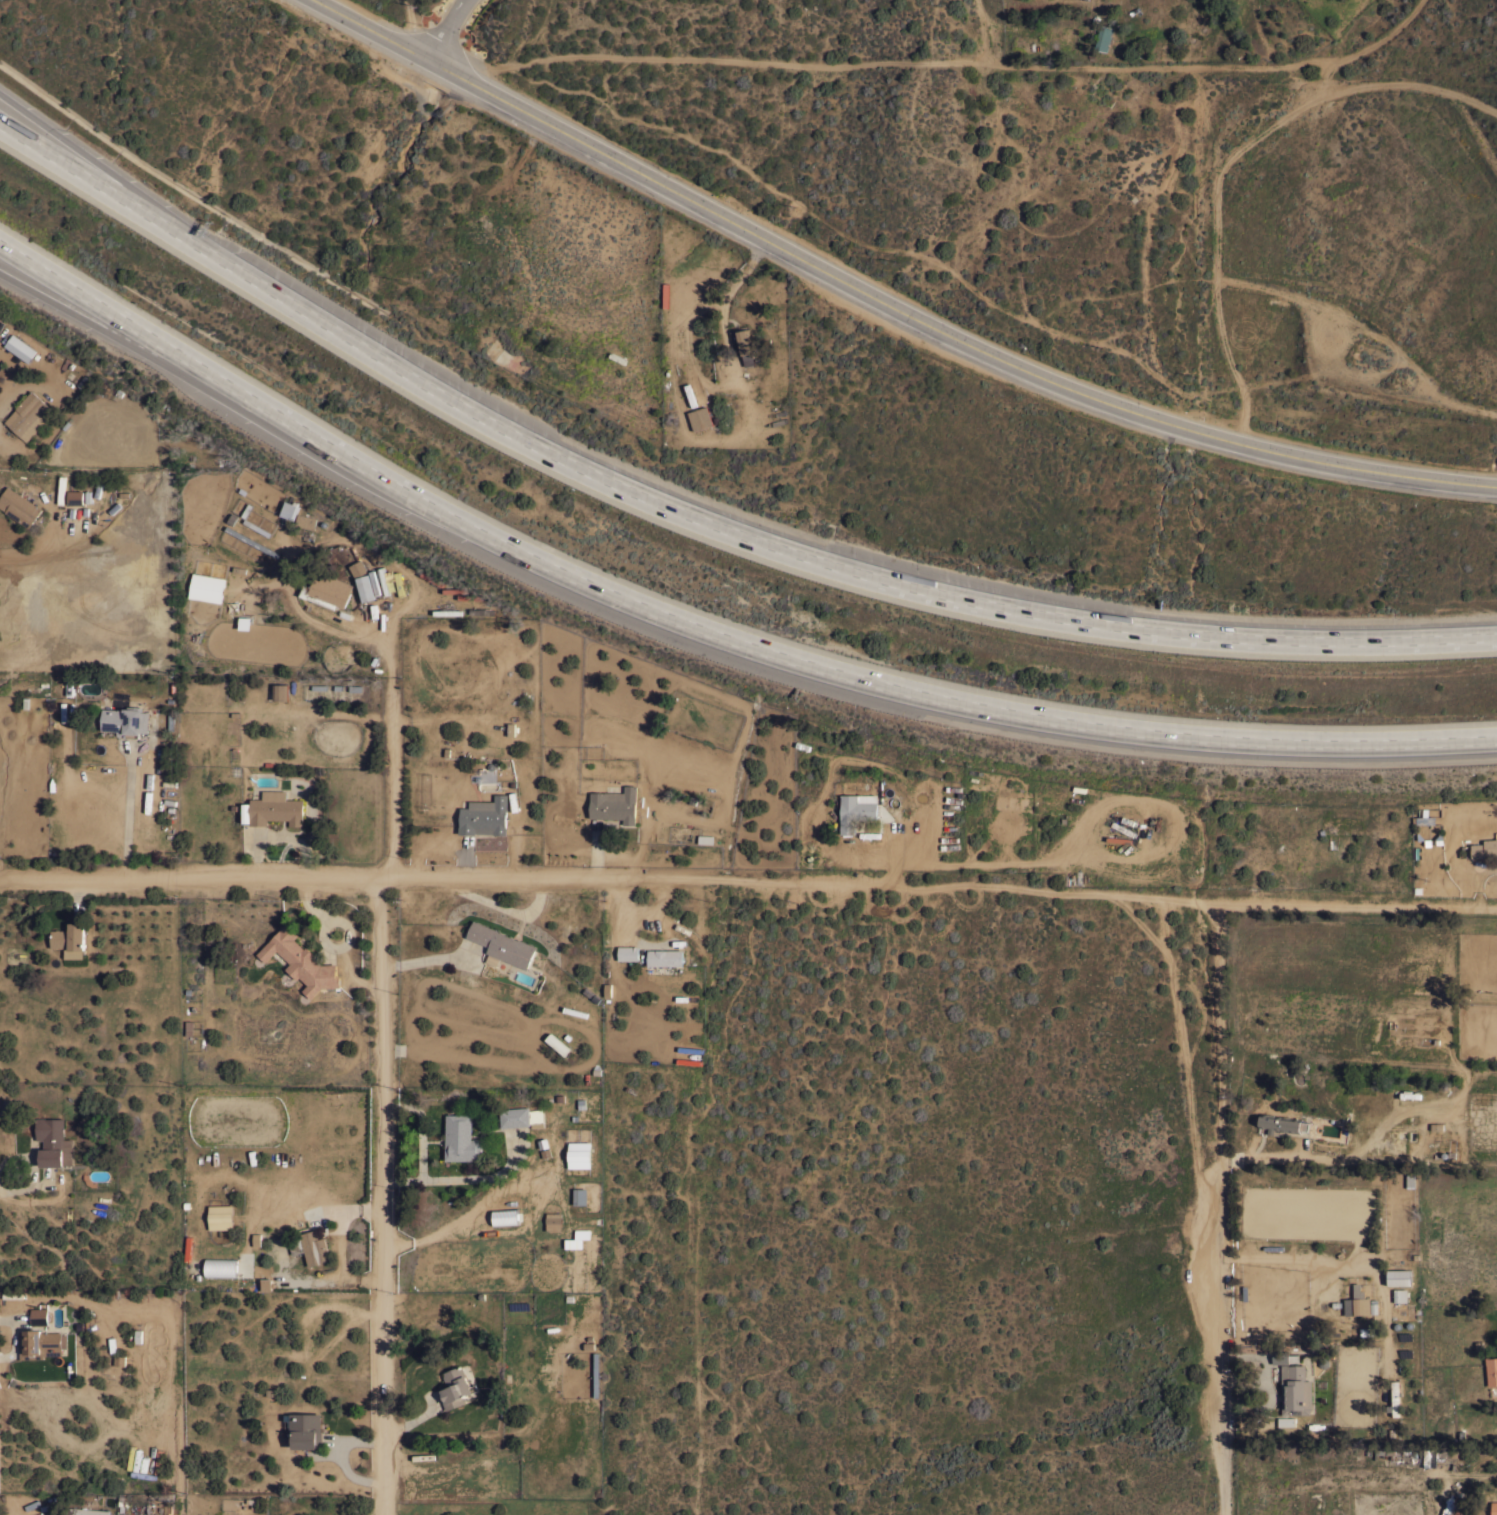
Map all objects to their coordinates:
road: (411, 26)
road: (447, 29)
road: (987, 32)
building: (1103, 38)
road: (943, 66)
road: (100, 167)
road: (100, 183)
road: (883, 303)
road: (133, 333)
building: (745, 346)
building: (20, 347)
building: (29, 415)
building: (700, 418)
building: (75, 497)
building: (19, 506)
building: (305, 521)
building: (155, 537)
building: (252, 540)
road: (815, 554)
building: (357, 568)
building: (207, 587)
building: (364, 588)
building: (327, 591)
building: (482, 611)
road: (705, 620)
building: (280, 691)
building: (125, 721)
building: (615, 804)
building: (276, 808)
building: (856, 810)
road: (133, 816)
building: (484, 816)
building: (1423, 818)
building: (1123, 829)
building: (705, 838)
building: (1483, 848)
road: (748, 885)
building: (70, 939)
building: (501, 945)
building: (628, 953)
building: (665, 957)
building: (301, 961)
building: (1415, 1024)
building: (557, 1044)
road: (384, 1060)
building: (1438, 1091)
building: (514, 1116)
building: (537, 1119)
building: (1281, 1122)
building: (1386, 1125)
road: (420, 1128)
building: (1441, 1137)
building: (461, 1138)
building: (53, 1142)
building: (579, 1154)
road: (463, 1179)
building: (580, 1196)
road: (468, 1211)
road: (1220, 1211)
building: (220, 1216)
building: (505, 1217)
building: (553, 1220)
building: (1405, 1231)
building: (582, 1233)
building: (311, 1247)
building: (220, 1267)
building: (1398, 1276)
building: (265, 1285)
building: (1400, 1294)
building: (1373, 1302)
building: (1356, 1303)
building: (39, 1316)
building: (1371, 1330)
building: (40, 1343)
building: (1283, 1356)
building: (1491, 1370)
building: (596, 1374)
building: (455, 1386)
building: (1295, 1390)
building: (1394, 1399)
building: (1285, 1421)
building: (305, 1429)
building: (1442, 1457)
building: (1494, 1508)
building: (86, 1511)

